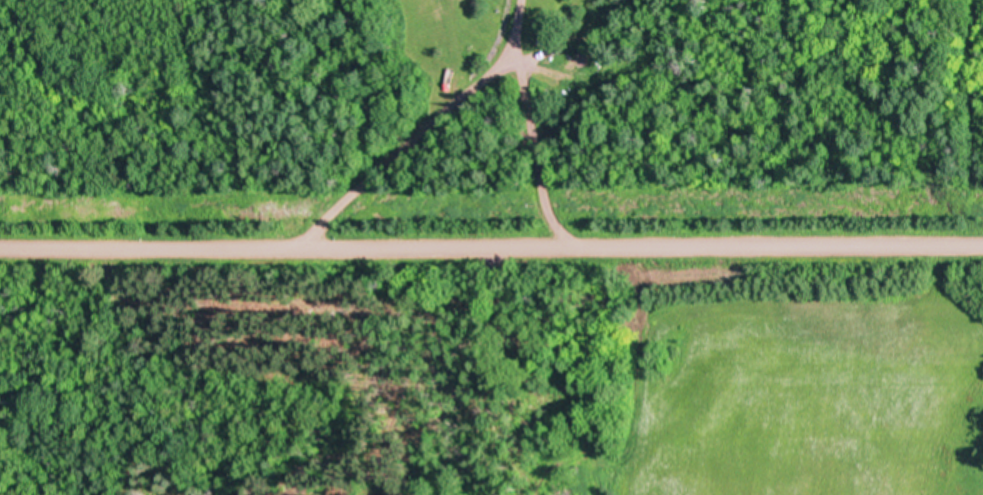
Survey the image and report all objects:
road: (491, 251)

